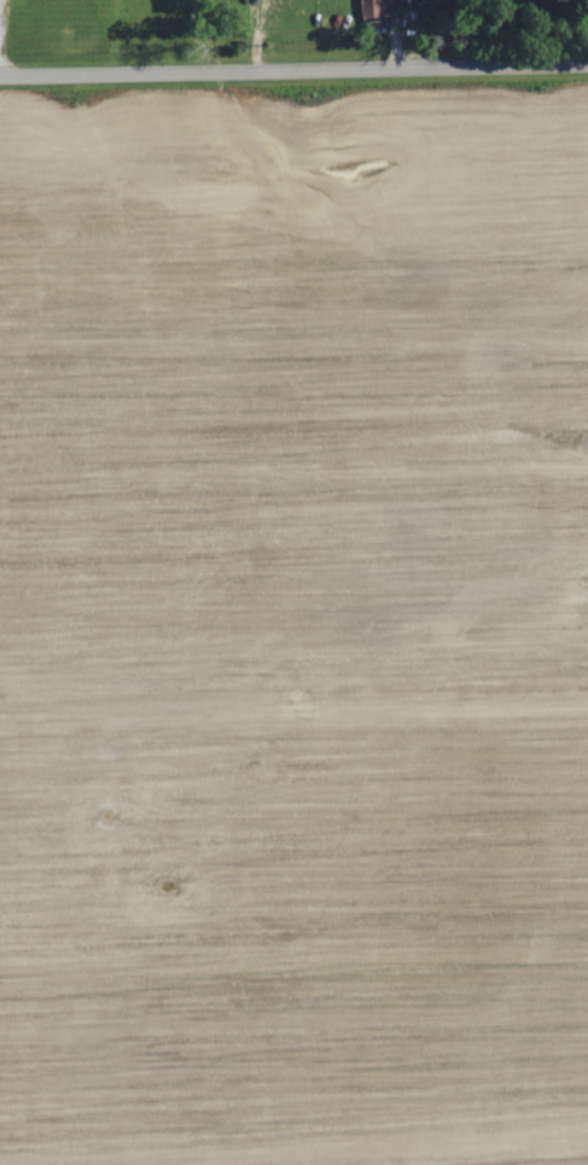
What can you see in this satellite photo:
building: (378, 8)
road: (112, 36)
road: (293, 70)

